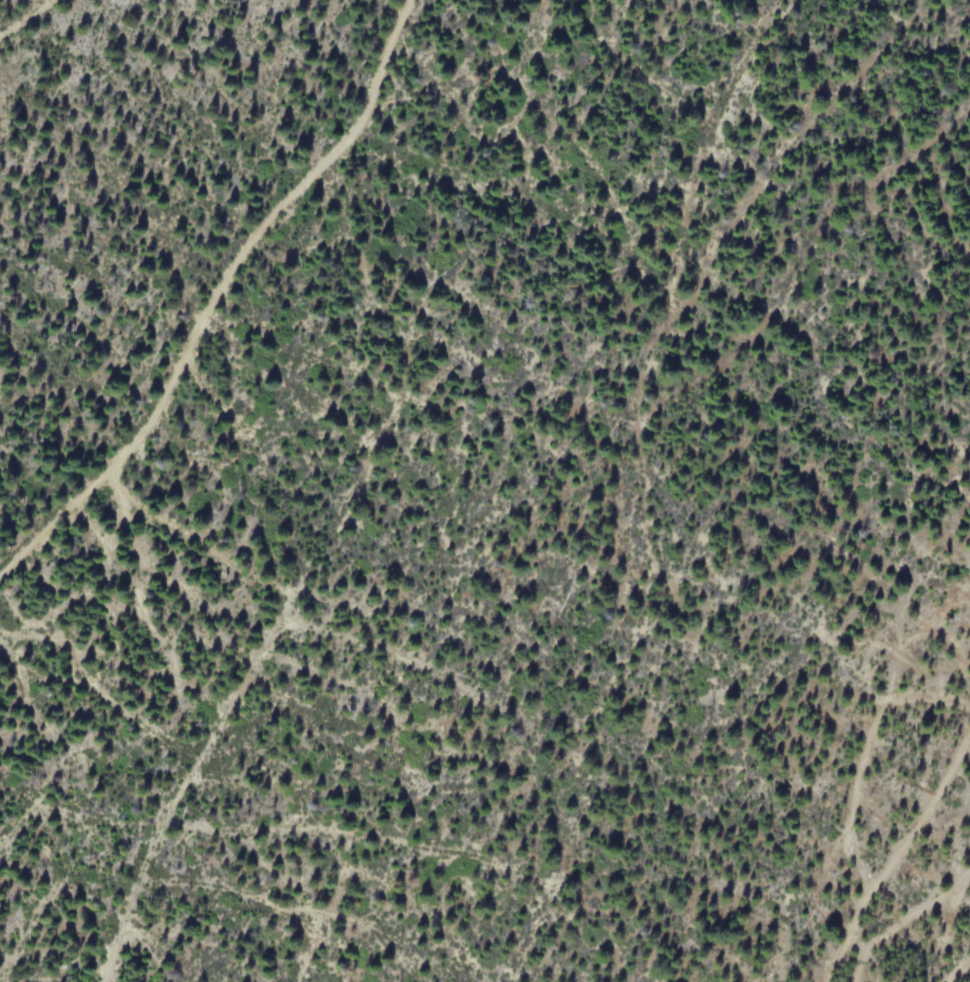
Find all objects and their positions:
road: (216, 293)
road: (958, 972)

